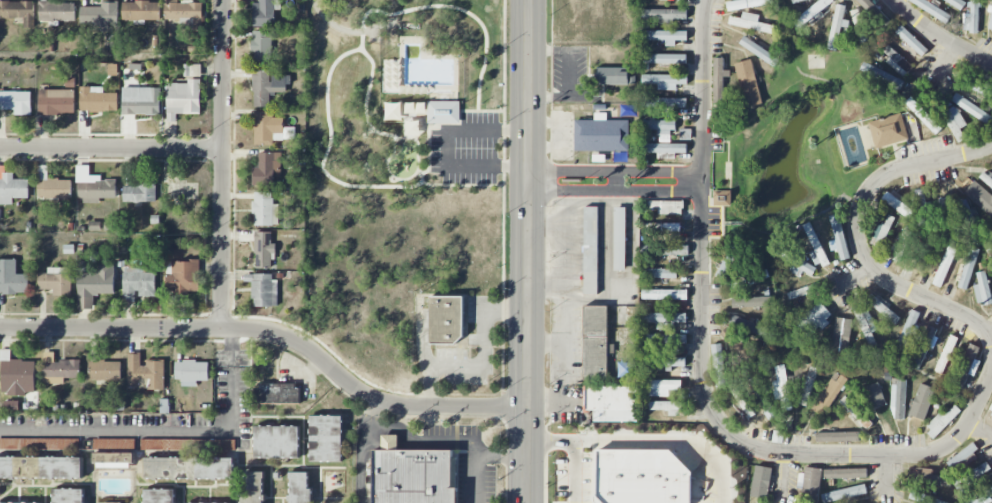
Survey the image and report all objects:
building: (749, 3)
building: (957, 3)
building: (931, 9)
building: (141, 10)
building: (18, 11)
building: (56, 12)
building: (812, 12)
building: (185, 13)
building: (264, 13)
building: (664, 15)
building: (100, 16)
building: (974, 16)
building: (866, 20)
building: (747, 22)
building: (990, 23)
building: (837, 25)
building: (664, 36)
road: (938, 37)
building: (911, 40)
building: (261, 47)
building: (759, 51)
building: (665, 59)
building: (896, 65)
building: (612, 76)
building: (719, 80)
building: (665, 81)
building: (748, 83)
building: (977, 86)
building: (267, 87)
building: (183, 98)
building: (97, 99)
building: (56, 101)
building: (141, 101)
building: (16, 102)
building: (664, 102)
building: (391, 109)
building: (972, 109)
building: (443, 111)
building: (923, 115)
building: (952, 118)
building: (659, 126)
building: (269, 129)
building: (888, 130)
building: (601, 135)
road: (503, 143)
road: (393, 147)
road: (112, 148)
building: (664, 148)
road: (223, 164)
building: (268, 169)
park: (399, 170)
road: (616, 172)
road: (617, 181)
building: (52, 186)
building: (11, 187)
building: (94, 187)
road: (615, 190)
building: (139, 193)
building: (980, 197)
building: (722, 198)
building: (898, 205)
building: (666, 207)
building: (922, 208)
building: (265, 209)
building: (942, 219)
building: (969, 220)
building: (94, 225)
building: (662, 227)
building: (883, 229)
road: (858, 236)
building: (839, 237)
building: (620, 239)
building: (902, 243)
building: (813, 244)
building: (263, 249)
building: (591, 249)
building: (664, 250)
road: (528, 251)
building: (924, 254)
building: (728, 262)
building: (796, 262)
building: (943, 265)
building: (968, 268)
building: (659, 273)
building: (183, 277)
building: (12, 278)
building: (749, 279)
building: (56, 281)
building: (137, 283)
building: (95, 285)
building: (263, 289)
building: (982, 289)
building: (803, 291)
building: (664, 294)
building: (751, 301)
building: (663, 317)
building: (815, 318)
building: (446, 319)
building: (865, 324)
building: (838, 328)
building: (742, 330)
building: (907, 332)
road: (273, 334)
road: (990, 335)
building: (665, 339)
building: (596, 342)
building: (924, 345)
building: (946, 354)
building: (667, 362)
building: (719, 362)
building: (967, 366)
building: (59, 369)
building: (105, 370)
building: (144, 372)
building: (191, 373)
building: (17, 376)
road: (701, 376)
building: (807, 386)
building: (662, 387)
building: (781, 387)
building: (279, 392)
building: (829, 394)
building: (873, 396)
building: (763, 398)
building: (898, 398)
building: (923, 399)
building: (607, 402)
building: (741, 402)
building: (11, 405)
building: (667, 407)
building: (855, 412)
building: (991, 414)
building: (942, 421)
road: (158, 426)
building: (837, 437)
building: (326, 438)
road: (645, 440)
building: (277, 441)
building: (39, 443)
building: (187, 447)
road: (366, 450)
building: (962, 455)
road: (477, 456)
building: (114, 460)
building: (41, 467)
building: (189, 468)
road: (578, 471)
building: (845, 473)
building: (413, 474)
building: (971, 476)
building: (927, 477)
building: (811, 480)
building: (761, 482)
building: (253, 487)
building: (299, 487)
building: (843, 493)
building: (68, 495)
building: (159, 496)
building: (982, 497)
building: (923, 498)
building: (21, 502)
building: (114, 502)
building: (209, 502)

